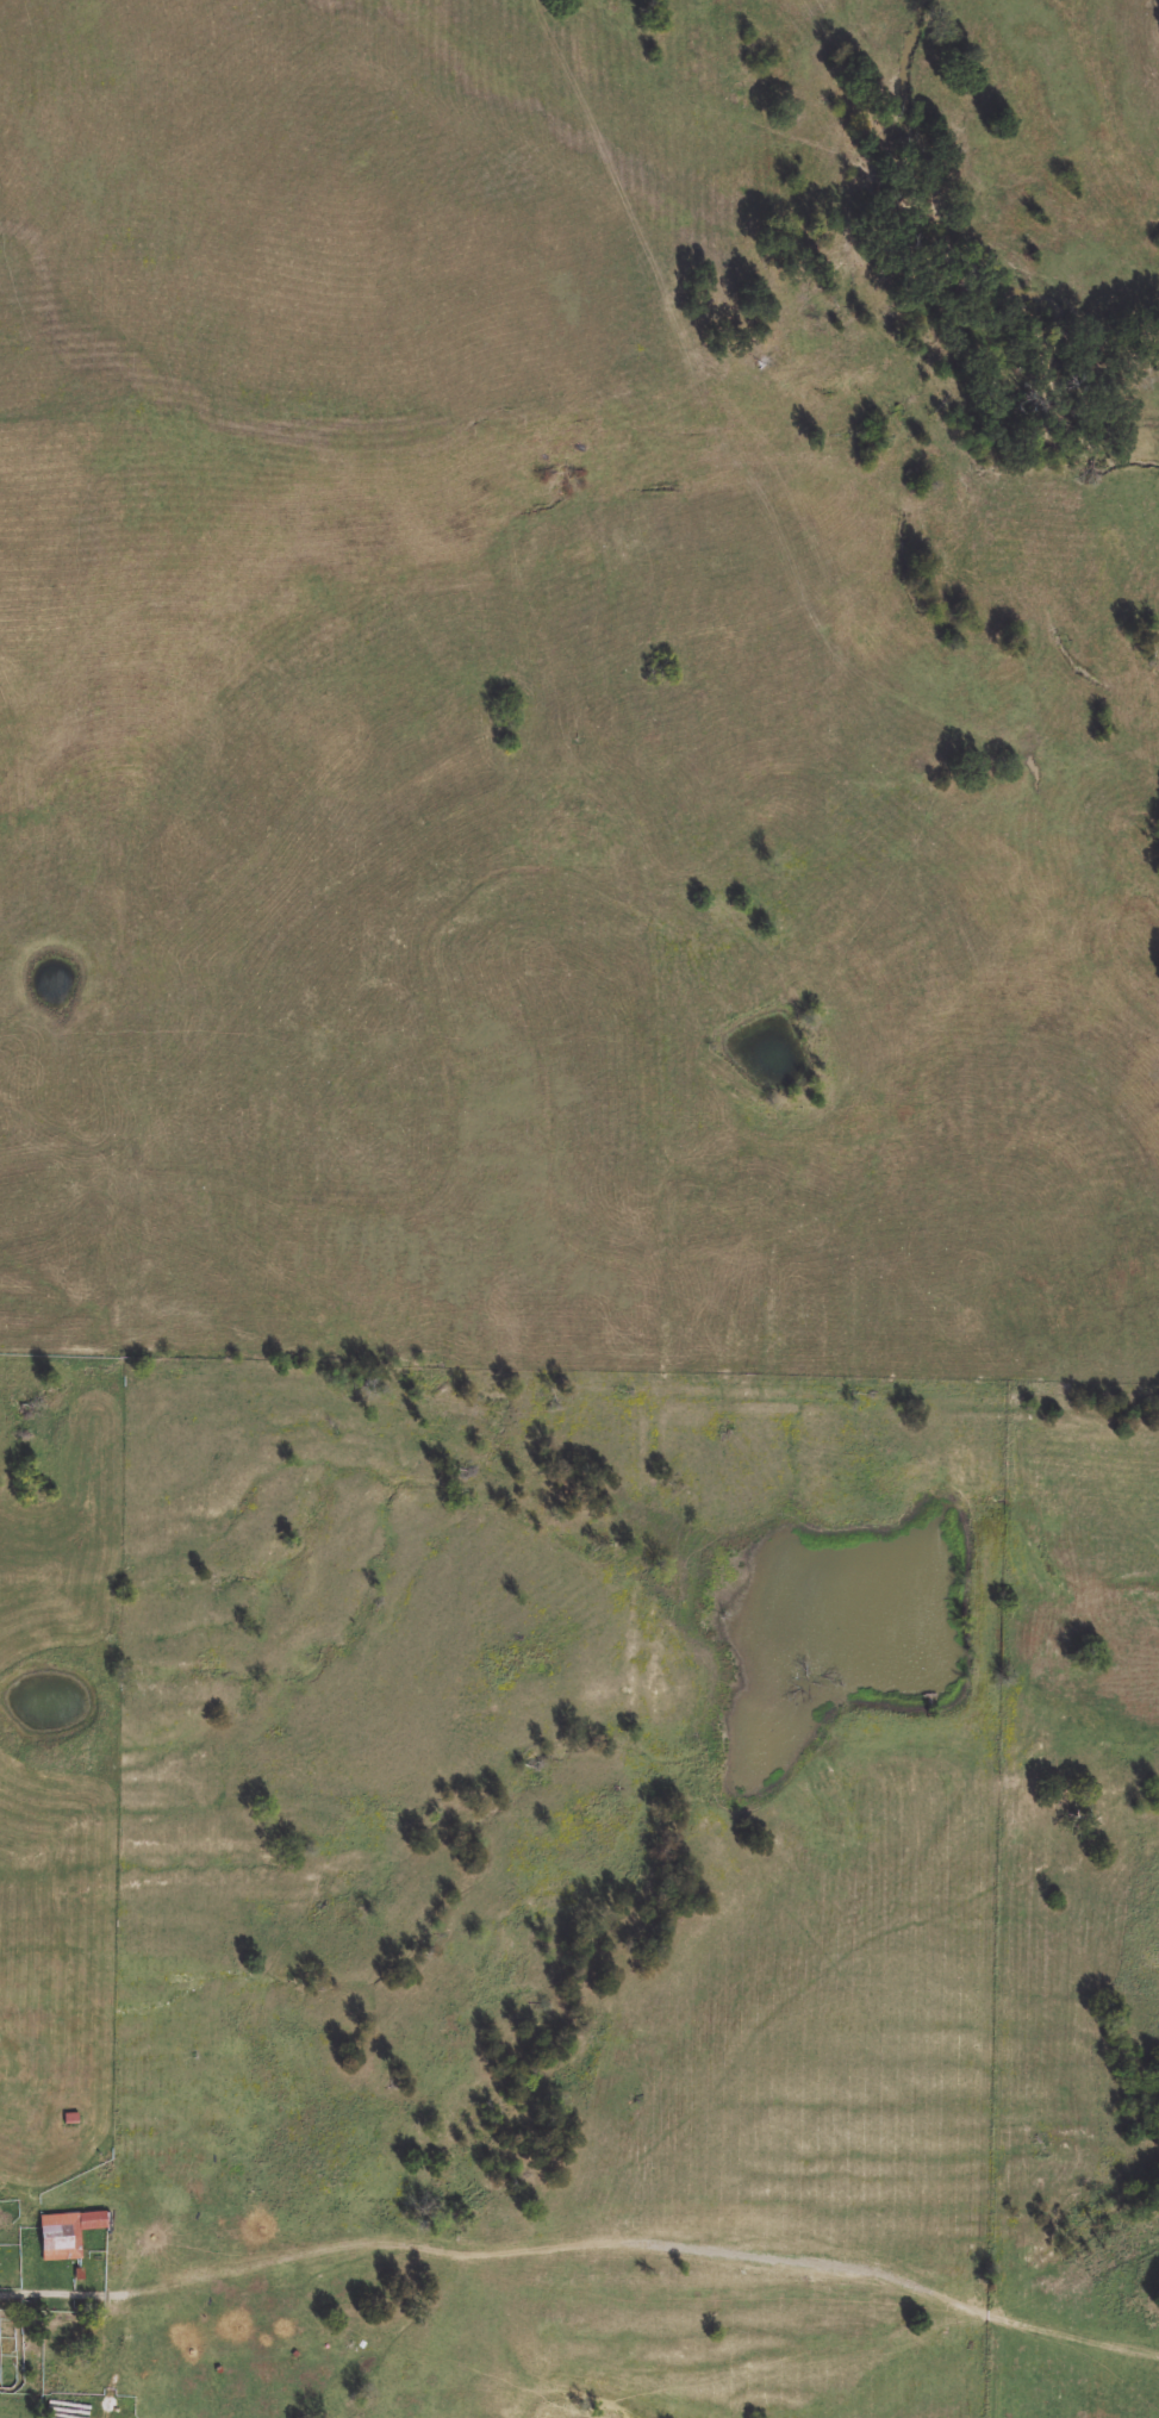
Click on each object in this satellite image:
building: (69, 2235)
road: (43, 2292)

